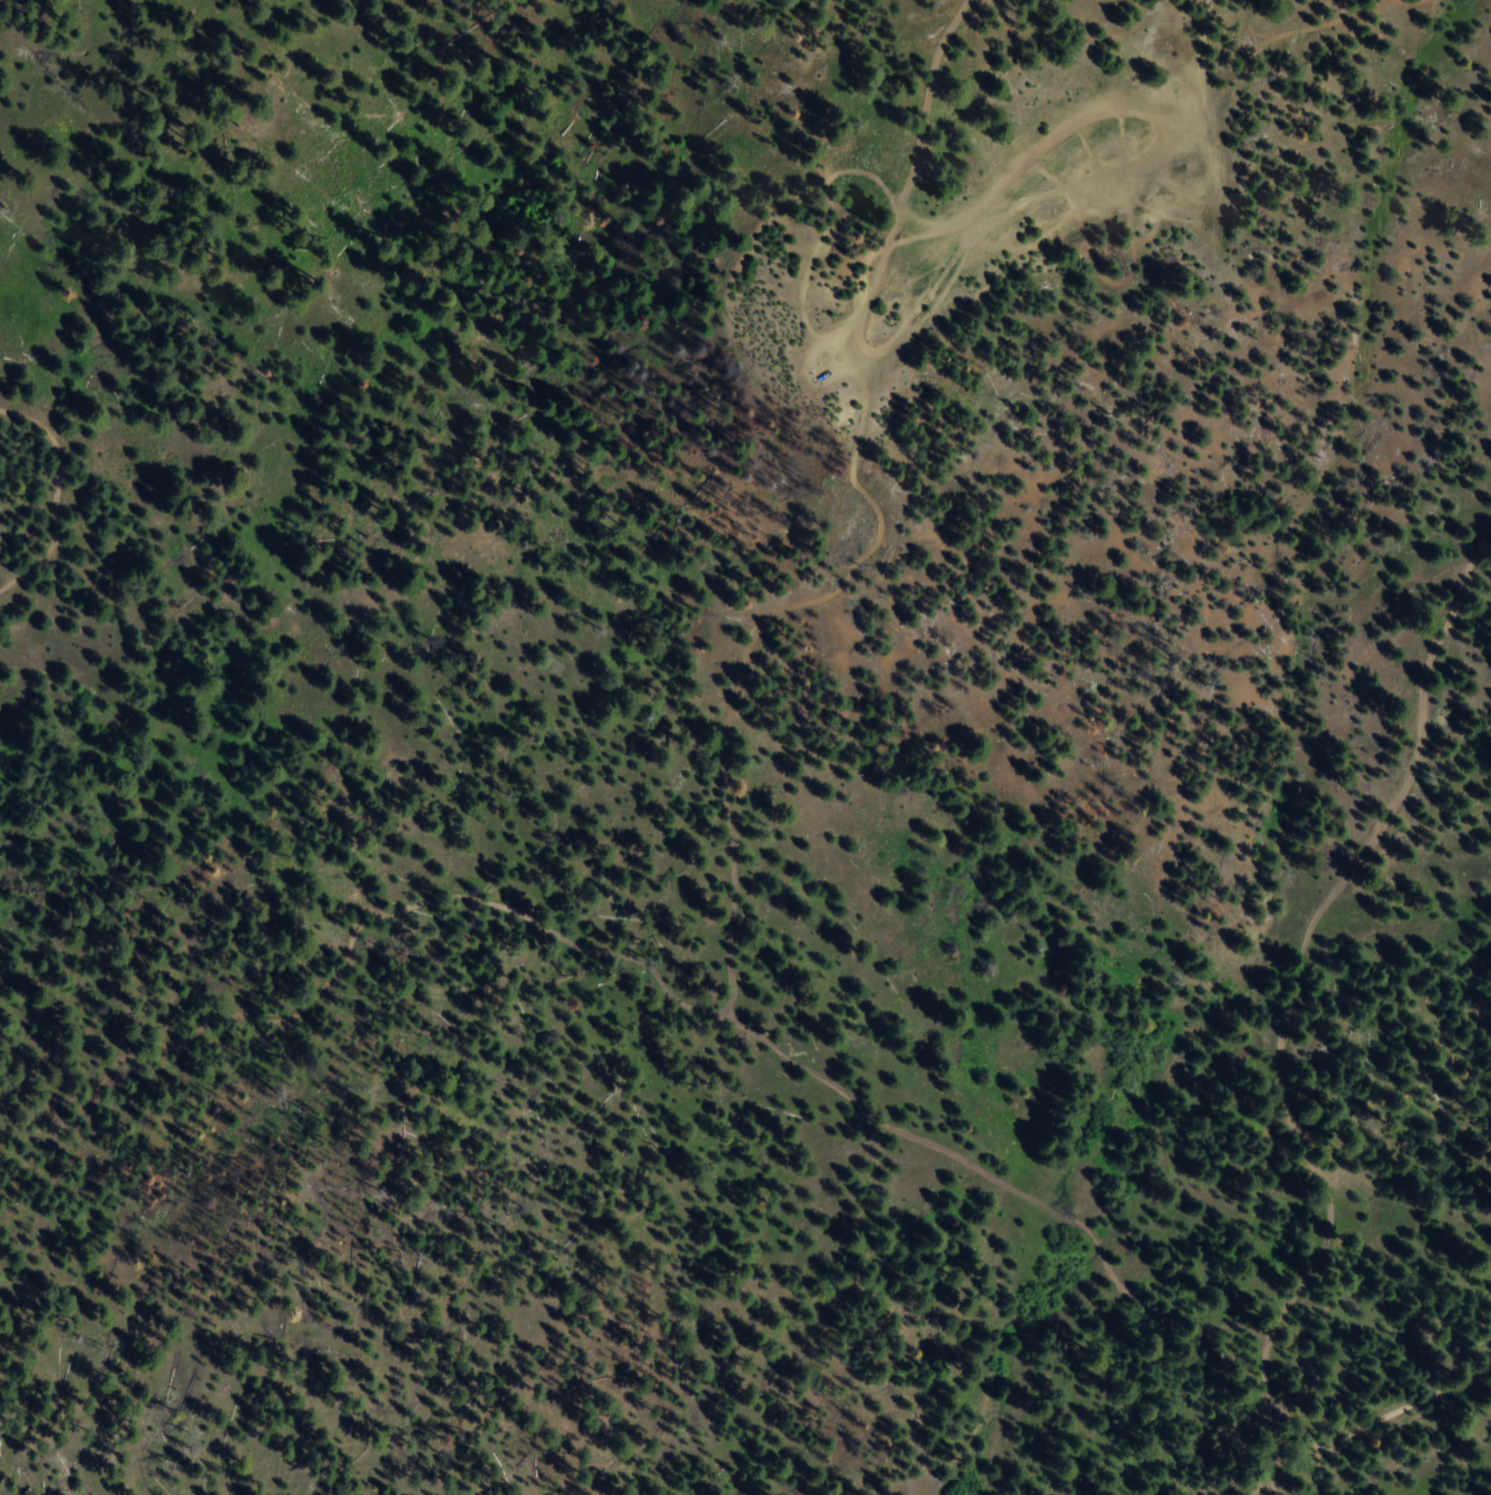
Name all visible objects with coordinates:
road: (935, 298)
road: (1372, 1416)

